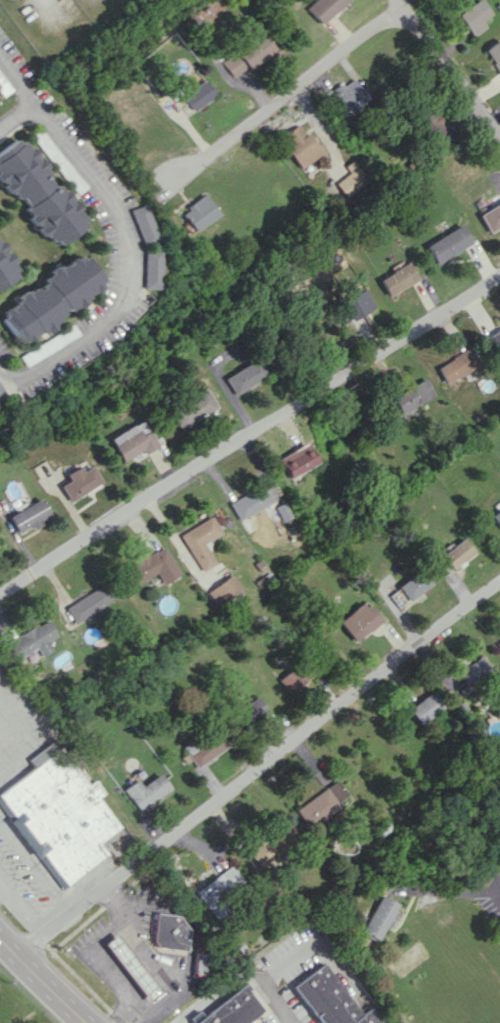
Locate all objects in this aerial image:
building: (321, 8)
building: (209, 12)
building: (475, 16)
building: (494, 52)
building: (244, 55)
road: (454, 68)
road: (305, 83)
building: (344, 94)
building: (196, 95)
road: (17, 115)
building: (434, 130)
building: (299, 145)
building: (349, 179)
building: (37, 192)
building: (197, 211)
building: (491, 217)
building: (140, 224)
road: (122, 237)
building: (448, 243)
building: (146, 268)
building: (3, 273)
building: (396, 278)
building: (46, 298)
building: (355, 304)
building: (496, 337)
building: (45, 344)
building: (456, 365)
building: (243, 375)
building: (1, 394)
building: (413, 395)
building: (191, 409)
road: (250, 436)
building: (132, 441)
building: (295, 460)
building: (79, 481)
building: (248, 501)
building: (280, 511)
building: (496, 513)
building: (27, 515)
building: (200, 542)
building: (457, 553)
building: (151, 566)
building: (414, 584)
building: (223, 589)
building: (87, 604)
building: (358, 620)
building: (32, 640)
building: (498, 643)
building: (474, 671)
building: (290, 681)
building: (425, 707)
road: (24, 709)
building: (248, 711)
building: (493, 732)
building: (204, 749)
road: (258, 771)
building: (145, 791)
building: (322, 802)
building: (58, 813)
road: (35, 869)
building: (217, 885)
road: (1, 886)
road: (450, 893)
road: (21, 908)
road: (133, 909)
building: (377, 917)
building: (170, 931)
road: (317, 944)
building: (203, 963)
road: (160, 964)
building: (132, 967)
gas station: (133, 967)
road: (239, 977)
road: (41, 981)
building: (333, 999)
building: (232, 1009)
road: (295, 1020)
road: (82, 1022)

